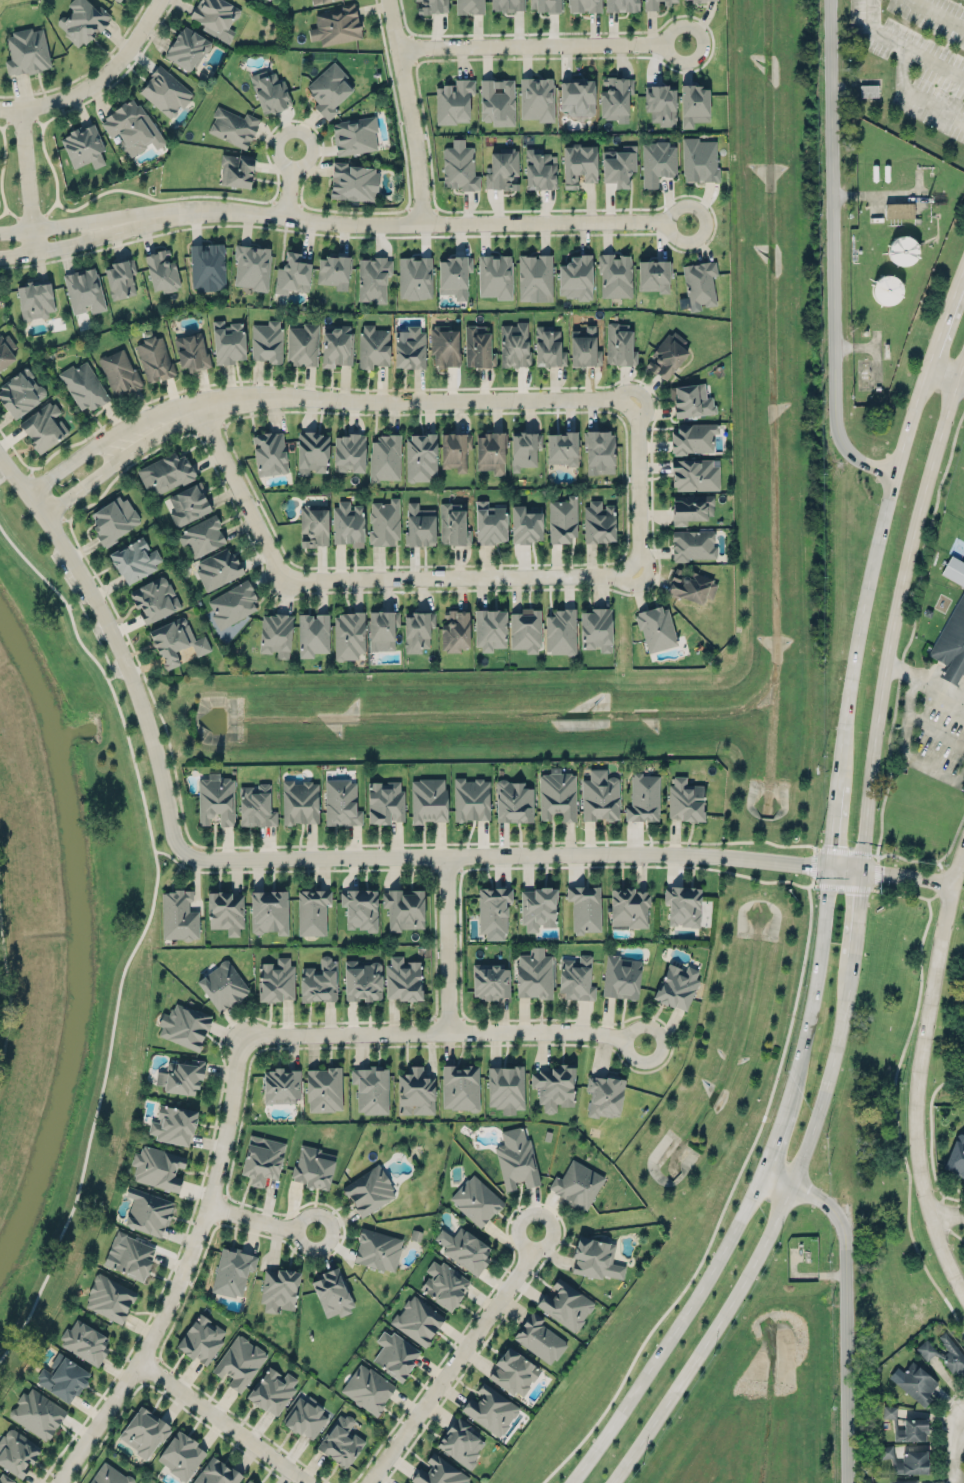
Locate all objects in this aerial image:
building: (118, 0)
building: (121, 0)
building: (698, 0)
building: (320, 1)
building: (654, 4)
building: (507, 5)
building: (432, 6)
building: (469, 6)
building: (546, 6)
building: (584, 6)
building: (621, 6)
road: (939, 13)
building: (216, 17)
building: (82, 22)
building: (336, 25)
road: (706, 25)
road: (409, 40)
road: (543, 44)
road: (907, 46)
building: (187, 48)
building: (26, 51)
road: (410, 52)
road: (86, 69)
road: (96, 80)
building: (329, 89)
building: (868, 90)
building: (165, 91)
building: (270, 92)
road: (913, 94)
building: (615, 96)
road: (88, 98)
building: (577, 98)
building: (537, 99)
building: (453, 101)
building: (497, 101)
building: (661, 104)
building: (693, 106)
road: (411, 111)
road: (35, 117)
road: (1, 126)
building: (233, 126)
building: (132, 127)
building: (355, 135)
road: (322, 143)
building: (83, 147)
road: (3, 159)
building: (699, 160)
building: (657, 162)
building: (579, 164)
building: (618, 166)
building: (459, 168)
building: (502, 169)
building: (236, 170)
building: (539, 170)
road: (26, 180)
building: (354, 182)
road: (286, 190)
building: (898, 210)
road: (12, 213)
road: (31, 215)
road: (413, 216)
road: (432, 216)
road: (397, 223)
road: (58, 225)
road: (712, 230)
road: (139, 236)
road: (59, 247)
water tower: (902, 250)
building: (902, 251)
road: (834, 253)
building: (207, 267)
building: (252, 267)
building: (161, 271)
building: (334, 272)
building: (292, 274)
building: (615, 275)
building: (654, 275)
building: (454, 276)
building: (495, 276)
building: (415, 278)
building: (534, 278)
building: (576, 278)
building: (120, 279)
building: (373, 279)
road: (962, 282)
building: (699, 283)
water tower: (886, 289)
building: (887, 289)
building: (84, 291)
building: (35, 299)
road: (946, 325)
building: (267, 341)
building: (228, 342)
building: (620, 344)
building: (303, 345)
building: (336, 345)
building: (515, 345)
building: (373, 347)
building: (445, 347)
building: (549, 347)
building: (478, 348)
building: (585, 348)
building: (410, 349)
building: (6, 351)
building: (192, 353)
building: (667, 356)
building: (154, 359)
road: (931, 368)
building: (120, 372)
road: (944, 376)
road: (961, 382)
building: (84, 385)
building: (21, 394)
road: (386, 400)
building: (690, 400)
road: (223, 422)
road: (209, 425)
road: (225, 427)
building: (44, 428)
road: (197, 432)
building: (692, 438)
road: (14, 448)
building: (562, 449)
building: (455, 450)
road: (82, 451)
building: (525, 451)
building: (600, 452)
building: (312, 453)
building: (349, 453)
building: (491, 453)
building: (269, 454)
building: (421, 456)
building: (385, 458)
road: (37, 464)
road: (31, 470)
building: (165, 473)
road: (96, 474)
building: (694, 474)
road: (639, 486)
park: (958, 488)
road: (242, 493)
road: (45, 496)
building: (188, 504)
building: (691, 509)
road: (65, 518)
building: (113, 519)
building: (563, 521)
building: (384, 523)
building: (525, 523)
building: (599, 523)
building: (348, 524)
building: (453, 524)
building: (419, 525)
building: (490, 525)
building: (313, 526)
road: (627, 526)
building: (202, 537)
building: (693, 545)
road: (259, 553)
building: (134, 561)
building: (218, 569)
building: (954, 570)
road: (870, 575)
road: (464, 578)
building: (691, 586)
building: (154, 601)
building: (233, 604)
road: (85, 613)
road: (895, 613)
building: (383, 629)
building: (597, 630)
building: (656, 630)
building: (417, 631)
building: (455, 631)
building: (490, 631)
building: (526, 631)
building: (560, 631)
road: (912, 632)
building: (275, 634)
building: (313, 634)
building: (349, 636)
road: (116, 642)
building: (176, 642)
building: (951, 644)
road: (117, 673)
road: (107, 680)
road: (925, 681)
road: (904, 748)
building: (558, 793)
building: (600, 794)
building: (472, 796)
building: (685, 796)
building: (644, 797)
building: (427, 798)
building: (514, 798)
building: (216, 799)
building: (385, 799)
building: (300, 800)
building: (341, 801)
building: (256, 803)
road: (833, 826)
road: (953, 840)
road: (817, 846)
road: (814, 849)
road: (845, 850)
road: (168, 854)
road: (874, 854)
road: (505, 855)
road: (912, 858)
road: (877, 860)
road: (813, 863)
road: (447, 868)
road: (460, 869)
road: (845, 869)
road: (432, 870)
road: (877, 872)
road: (907, 874)
road: (812, 881)
road: (939, 881)
road: (815, 884)
road: (844, 886)
road: (874, 888)
road: (883, 894)
road: (920, 896)
building: (684, 902)
building: (360, 906)
building: (404, 906)
building: (493, 906)
building: (585, 906)
building: (225, 907)
building: (269, 907)
building: (629, 907)
building: (538, 908)
building: (313, 909)
building: (179, 913)
road: (459, 928)
river: (81, 940)
road: (447, 943)
building: (534, 971)
building: (577, 975)
building: (621, 975)
building: (276, 977)
building: (403, 977)
building: (362, 978)
building: (491, 978)
building: (319, 981)
building: (677, 983)
building: (223, 984)
road: (814, 987)
road: (9, 992)
road: (463, 1017)
road: (435, 1018)
road: (274, 1020)
road: (449, 1020)
building: (184, 1024)
road: (634, 1027)
road: (433, 1031)
road: (927, 1071)
building: (181, 1077)
building: (281, 1083)
building: (507, 1085)
building: (554, 1086)
building: (370, 1087)
building: (460, 1087)
building: (324, 1088)
building: (415, 1088)
building: (603, 1092)
road: (96, 1114)
road: (896, 1122)
building: (172, 1124)
road: (774, 1138)
road: (931, 1154)
building: (262, 1156)
building: (956, 1156)
building: (517, 1162)
building: (158, 1165)
building: (313, 1165)
building: (576, 1184)
building: (369, 1188)
road: (225, 1194)
road: (729, 1194)
road: (785, 1196)
building: (474, 1198)
road: (220, 1208)
building: (149, 1209)
road: (288, 1210)
road: (529, 1212)
road: (950, 1213)
road: (304, 1216)
road: (252, 1217)
road: (218, 1222)
building: (378, 1247)
building: (464, 1249)
building: (131, 1254)
building: (593, 1256)
building: (232, 1269)
road: (182, 1273)
building: (443, 1284)
building: (280, 1286)
building: (332, 1292)
building: (109, 1298)
road: (845, 1303)
building: (565, 1305)
road: (477, 1307)
building: (417, 1318)
road: (673, 1331)
building: (201, 1336)
building: (537, 1338)
building: (85, 1339)
building: (925, 1349)
building: (395, 1352)
building: (951, 1355)
road: (157, 1357)
building: (240, 1360)
road: (452, 1366)
road: (148, 1367)
road: (463, 1370)
building: (514, 1372)
building: (63, 1378)
road: (142, 1380)
building: (916, 1381)
building: (368, 1386)
building: (272, 1390)
road: (168, 1396)
building: (491, 1409)
road: (960, 1410)
building: (37, 1411)
building: (305, 1414)
road: (223, 1423)
building: (144, 1428)
building: (911, 1430)
building: (340, 1441)
building: (461, 1441)
road: (956, 1447)
building: (18, 1449)
building: (181, 1455)
building: (906, 1459)
building: (216, 1472)
building: (438, 1472)
building: (109, 1474)
building: (5, 1479)
building: (904, 1480)
building: (249, 1481)

